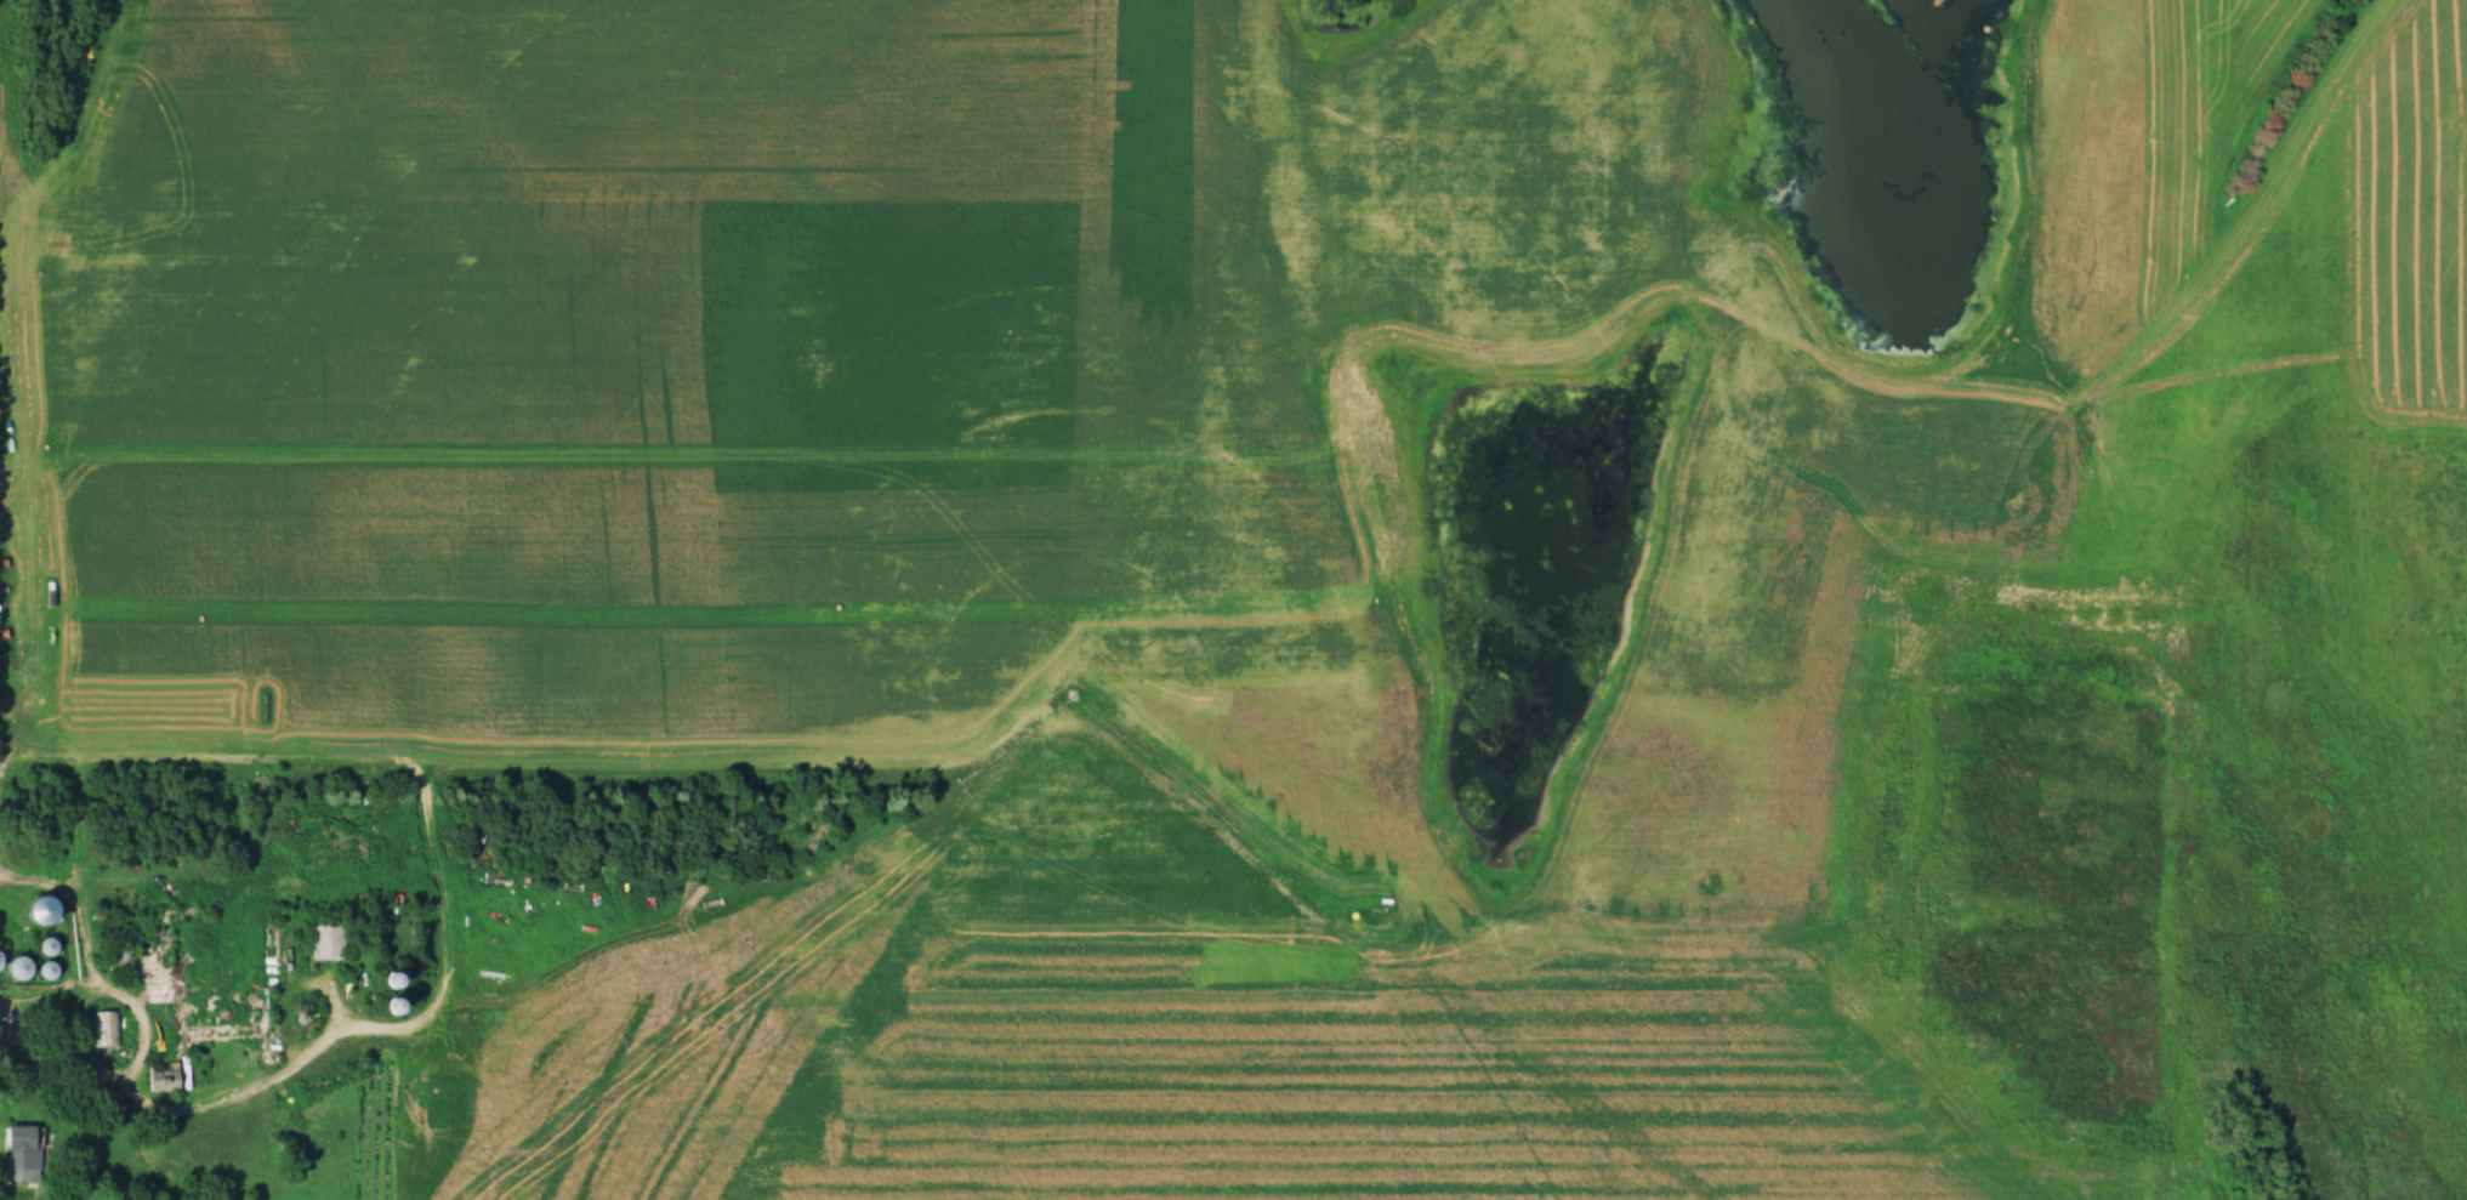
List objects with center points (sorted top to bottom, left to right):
building: (329, 940)
building: (163, 990)
building: (400, 1005)
building: (205, 1017)
road: (102, 1019)
road: (239, 1097)
building: (24, 1155)

